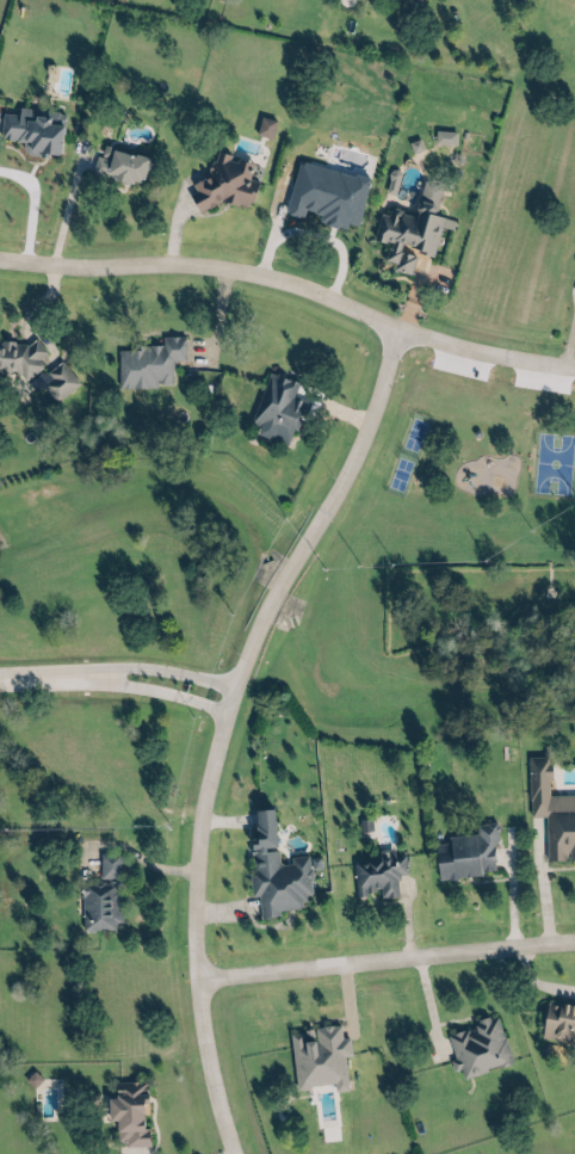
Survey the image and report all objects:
building: (414, 0)
building: (264, 125)
building: (36, 129)
building: (443, 136)
building: (118, 163)
building: (390, 180)
building: (223, 181)
road: (63, 211)
building: (410, 227)
road: (203, 265)
road: (484, 351)
building: (19, 357)
building: (150, 360)
building: (56, 381)
building: (276, 408)
road: (167, 669)
road: (51, 675)
road: (163, 690)
road: (220, 726)
building: (551, 811)
building: (466, 853)
building: (107, 864)
building: (376, 872)
building: (273, 876)
building: (98, 905)
road: (384, 958)
building: (558, 1019)
building: (477, 1047)
building: (314, 1059)
building: (124, 1110)

